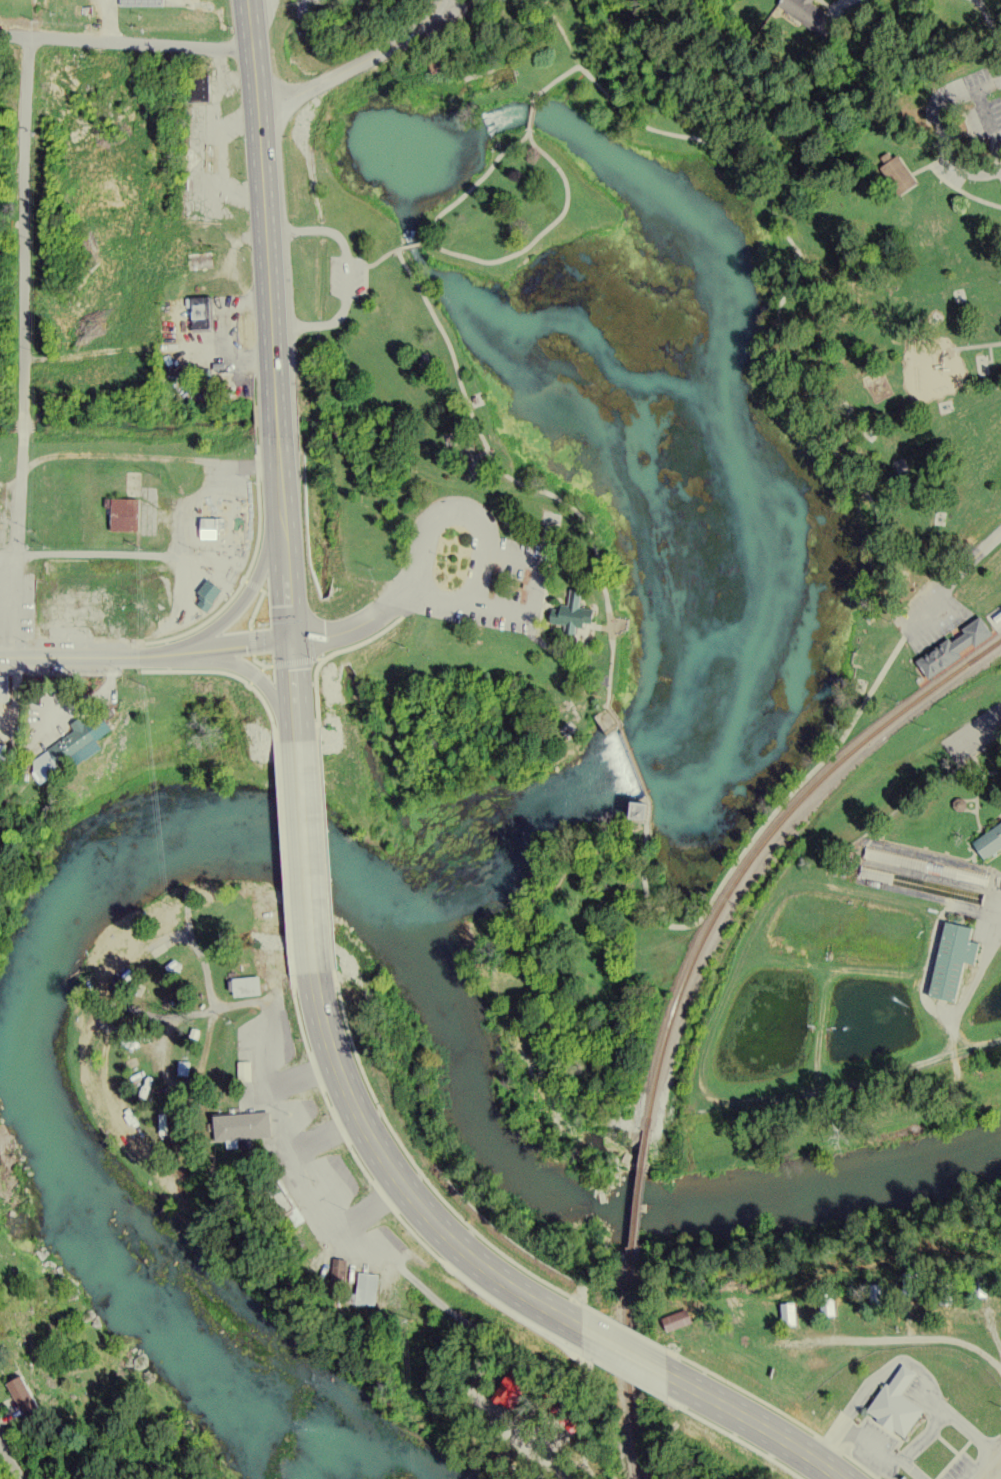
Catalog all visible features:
road: (455, 12)
building: (812, 14)
road: (989, 22)
road: (125, 44)
road: (433, 50)
road: (357, 65)
building: (197, 84)
road: (556, 84)
road: (530, 118)
road: (262, 130)
road: (940, 136)
road: (524, 152)
building: (190, 155)
road: (929, 162)
building: (899, 169)
building: (893, 179)
river: (653, 187)
road: (961, 188)
road: (10, 223)
road: (316, 226)
road: (410, 250)
road: (380, 262)
road: (470, 262)
road: (802, 264)
parking lot: (346, 273)
road: (346, 273)
road: (273, 293)
building: (200, 308)
road: (318, 322)
road: (976, 342)
road: (20, 349)
park: (637, 479)
road: (283, 481)
building: (129, 487)
road: (457, 508)
building: (121, 509)
road: (259, 516)
building: (223, 534)
road: (120, 550)
road: (488, 551)
road: (973, 560)
road: (253, 582)
parking lot: (506, 584)
road: (534, 586)
building: (209, 590)
road: (246, 595)
road: (386, 602)
road: (256, 607)
building: (117, 612)
building: (572, 612)
building: (998, 613)
parking lot: (930, 619)
road: (369, 637)
road: (142, 641)
road: (253, 641)
building: (953, 644)
road: (561, 651)
road: (146, 656)
road: (294, 660)
road: (261, 662)
road: (258, 676)
building: (4, 684)
road: (294, 688)
road: (963, 744)
building: (74, 745)
building: (1, 747)
road: (626, 753)
dam: (630, 763)
building: (989, 839)
railway: (757, 848)
road: (305, 854)
building: (888, 862)
building: (929, 889)
river: (434, 892)
building: (947, 964)
building: (247, 982)
building: (243, 1121)
road: (402, 1182)
building: (285, 1202)
river: (614, 1212)
railway: (627, 1237)
building: (981, 1278)
building: (913, 1280)
building: (369, 1285)
building: (947, 1288)
building: (877, 1289)
building: (828, 1299)
building: (788, 1309)
building: (690, 1312)
road: (625, 1352)
railway: (631, 1406)
building: (893, 1411)
road: (757, 1425)
road: (12, 1462)

